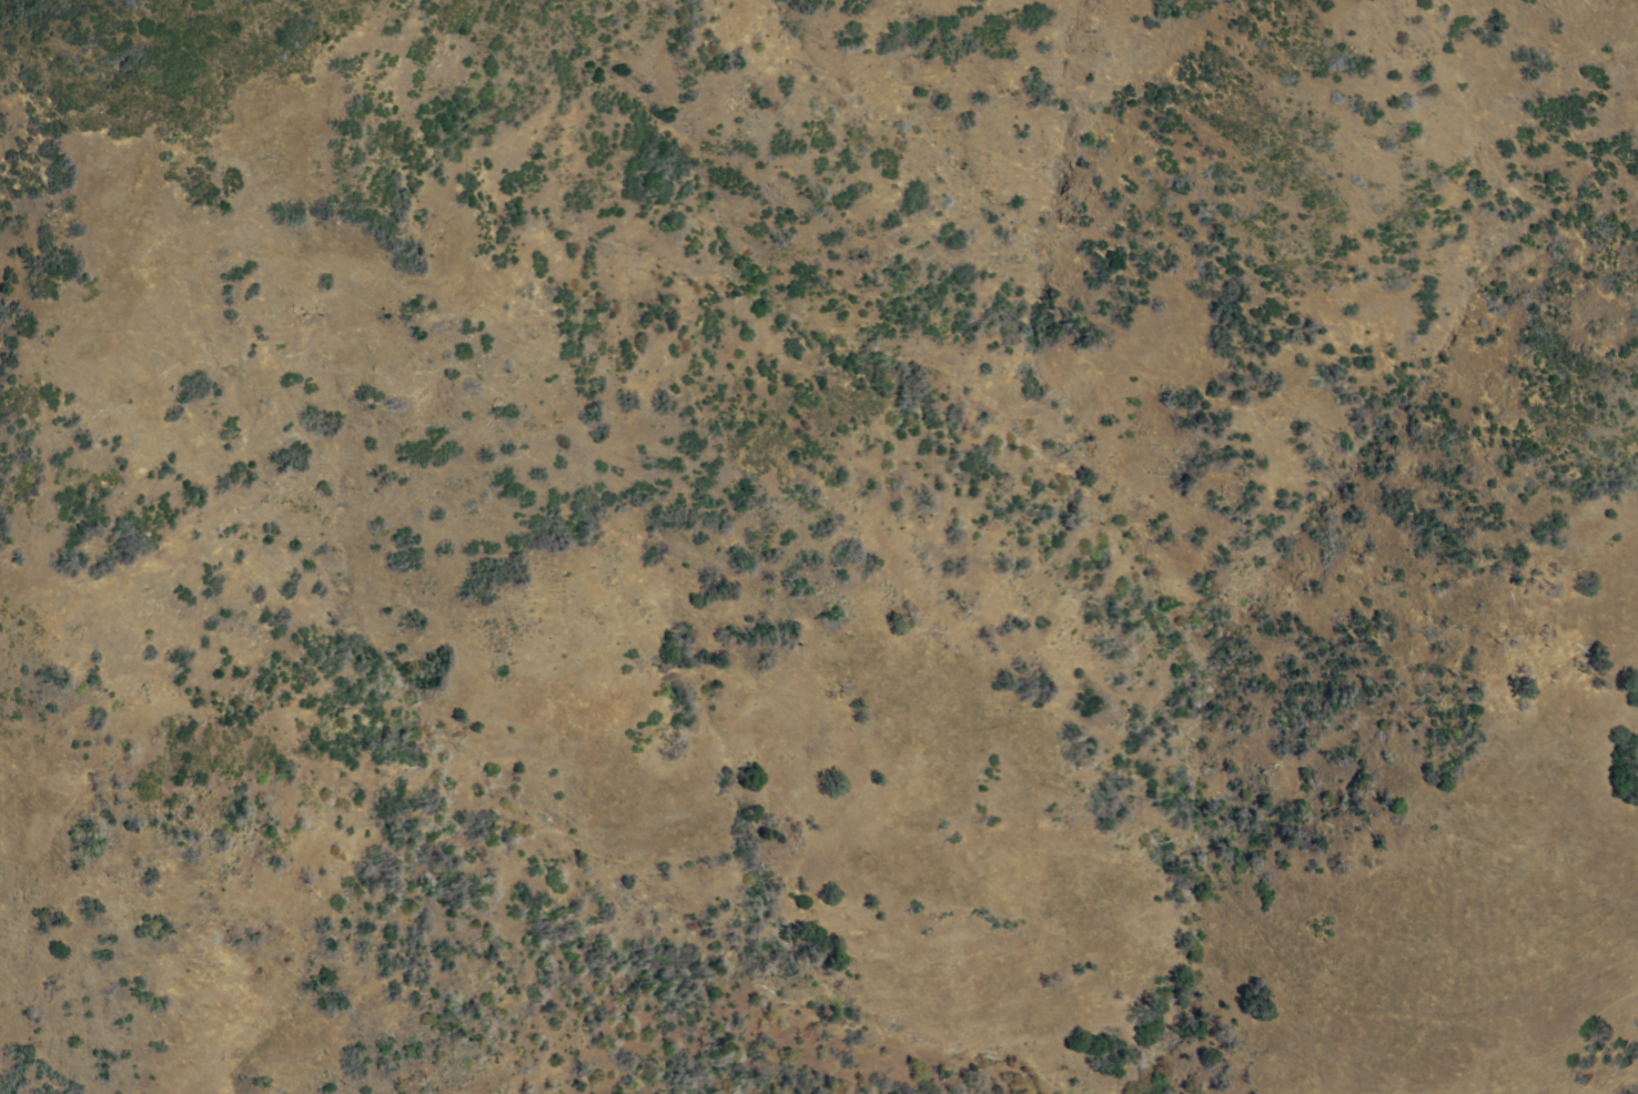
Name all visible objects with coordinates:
road: (1238, 966)

